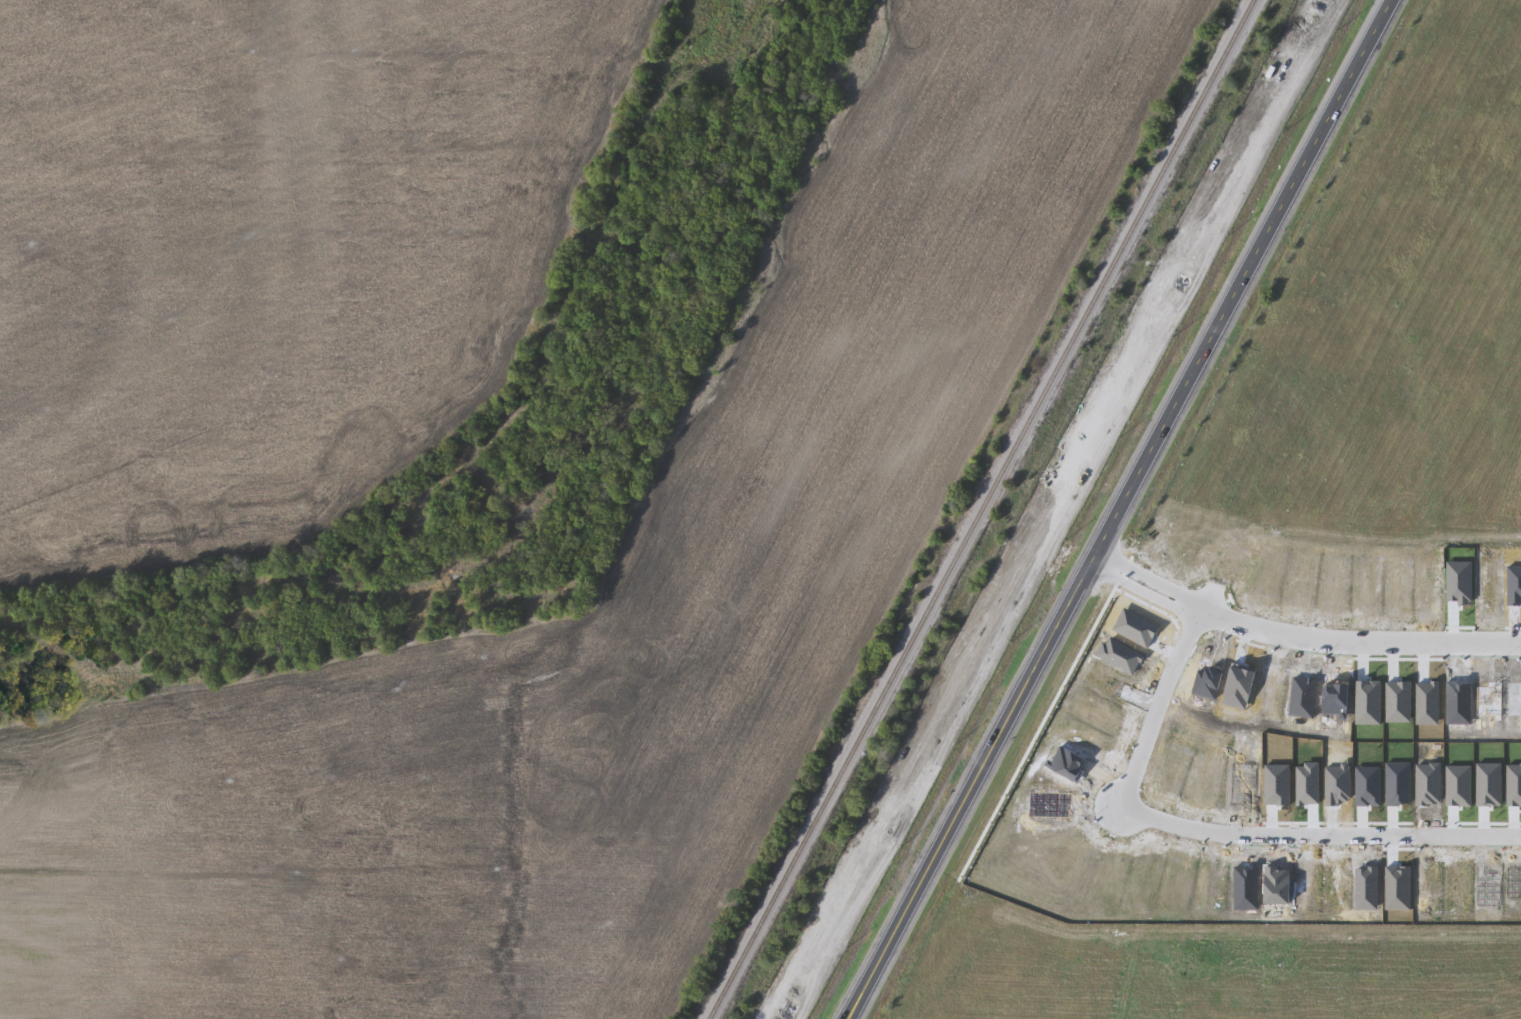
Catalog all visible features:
road: (1509, 65)
road: (1460, 264)
road: (1418, 429)
road: (1119, 506)
railway: (1052, 509)
railway: (985, 511)
road: (1213, 581)
road: (1298, 637)

